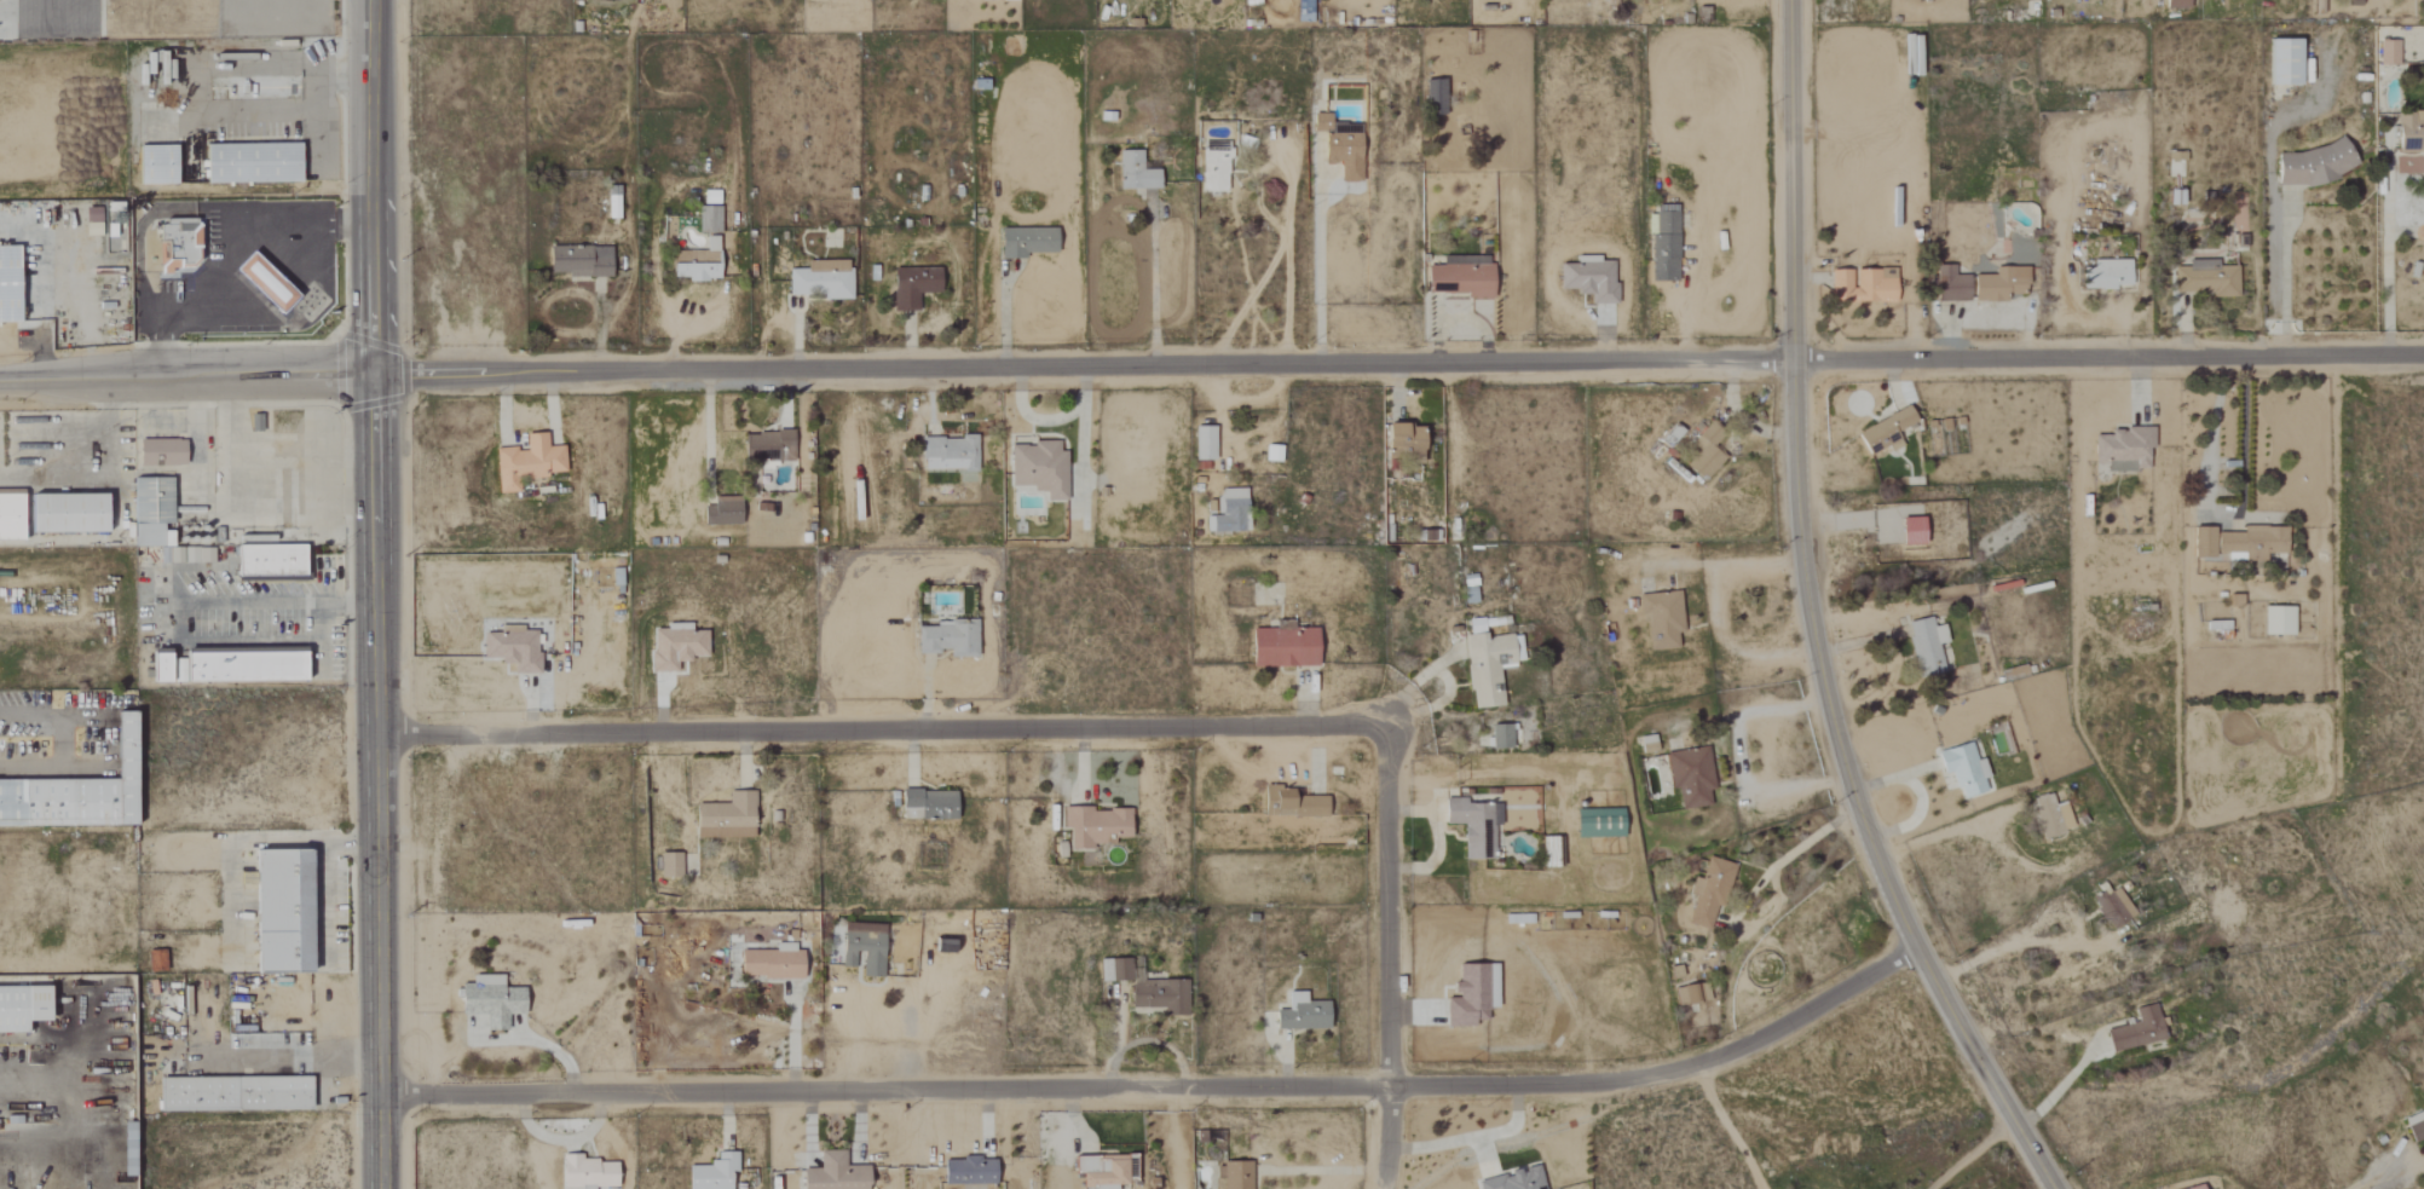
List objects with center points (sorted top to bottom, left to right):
building: (2175, 4)
building: (2388, 52)
building: (2282, 62)
road: (197, 76)
building: (1433, 96)
building: (2409, 131)
building: (1338, 149)
building: (249, 162)
building: (154, 165)
building: (2309, 165)
building: (1133, 172)
building: (1212, 172)
building: (612, 207)
building: (706, 219)
road: (1285, 224)
building: (90, 229)
building: (1025, 242)
building: (175, 246)
building: (1663, 248)
road: (224, 250)
road: (1317, 259)
building: (578, 261)
building: (696, 262)
building: (2105, 275)
road: (2279, 276)
building: (1588, 278)
building: (2206, 278)
road: (2385, 278)
building: (261, 282)
building: (7, 284)
building: (818, 284)
building: (1998, 284)
building: (912, 285)
building: (1862, 285)
building: (1949, 285)
road: (1154, 290)
road: (1286, 298)
road: (1005, 312)
road: (1399, 366)
road: (186, 380)
building: (1885, 432)
building: (1402, 438)
building: (1202, 443)
building: (767, 446)
building: (2122, 449)
building: (158, 452)
building: (947, 452)
building: (1271, 452)
building: (1704, 452)
building: (525, 462)
building: (1038, 468)
building: (721, 512)
building: (1228, 512)
building: (63, 513)
road: (2226, 513)
building: (8, 516)
building: (157, 521)
building: (1910, 531)
building: (2201, 542)
building: (2251, 543)
building: (267, 560)
road: (1727, 565)
road: (375, 594)
road: (231, 602)
building: (1660, 619)
building: (2276, 621)
road: (1810, 622)
building: (947, 639)
road: (249, 641)
building: (674, 646)
building: (1282, 646)
building: (1926, 646)
building: (1487, 662)
building: (225, 668)
road: (28, 717)
road: (879, 733)
building: (1499, 737)
building: (1646, 743)
road: (1741, 756)
building: (1962, 769)
road: (54, 770)
building: (1690, 777)
building: (75, 793)
building: (1294, 802)
building: (927, 804)
building: (2050, 816)
building: (725, 818)
building: (1598, 823)
building: (1093, 826)
building: (1473, 826)
road: (1943, 835)
road: (1803, 843)
building: (668, 865)
building: (1707, 894)
building: (2112, 908)
building: (278, 912)
road: (2038, 942)
building: (942, 946)
building: (862, 952)
road: (1384, 959)
building: (155, 960)
building: (771, 963)
building: (1114, 970)
building: (1691, 994)
building: (1470, 995)
building: (1158, 997)
building: (490, 1000)
building: (21, 1008)
building: (1300, 1014)
building: (2136, 1031)
road: (273, 1057)
road: (2062, 1084)
road: (1162, 1091)
building: (231, 1093)
building: (2414, 1126)
road: (1725, 1129)
road: (1470, 1137)
building: (125, 1147)
road: (1972, 1153)
building: (966, 1171)
building: (1100, 1171)
building: (585, 1173)
building: (711, 1173)
building: (833, 1173)
building: (1233, 1174)
building: (1513, 1181)
building: (2198, 1188)

